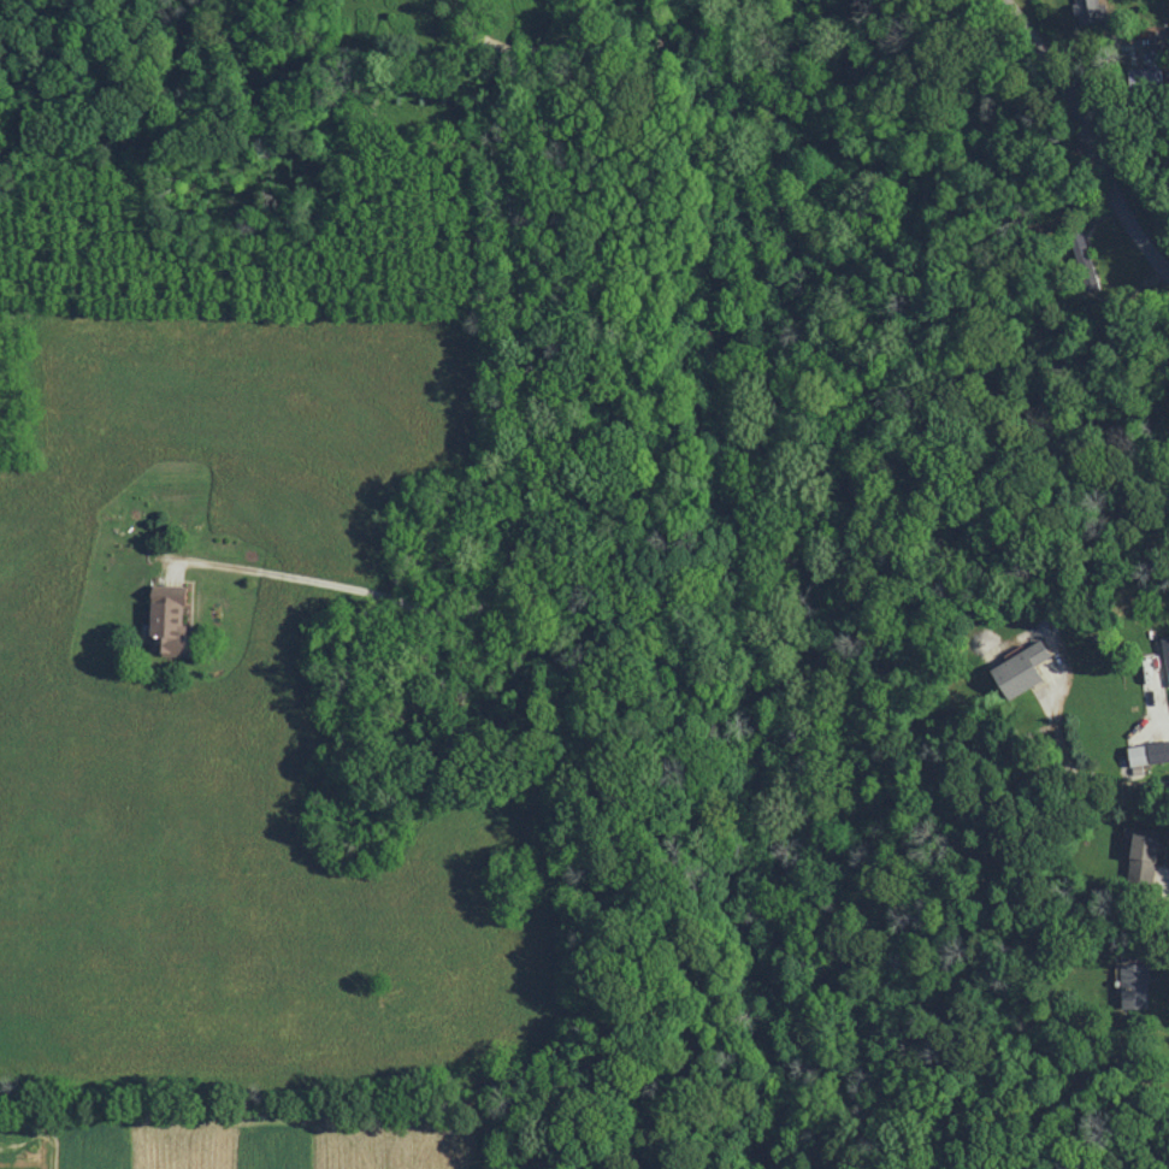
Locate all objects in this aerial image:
building: (1090, 11)
road: (519, 51)
road: (1104, 59)
road: (1085, 137)
road: (532, 453)
building: (171, 621)
building: (1165, 650)
building: (1022, 669)
building: (1149, 754)
road: (1081, 780)
building: (1145, 855)
building: (1134, 985)

